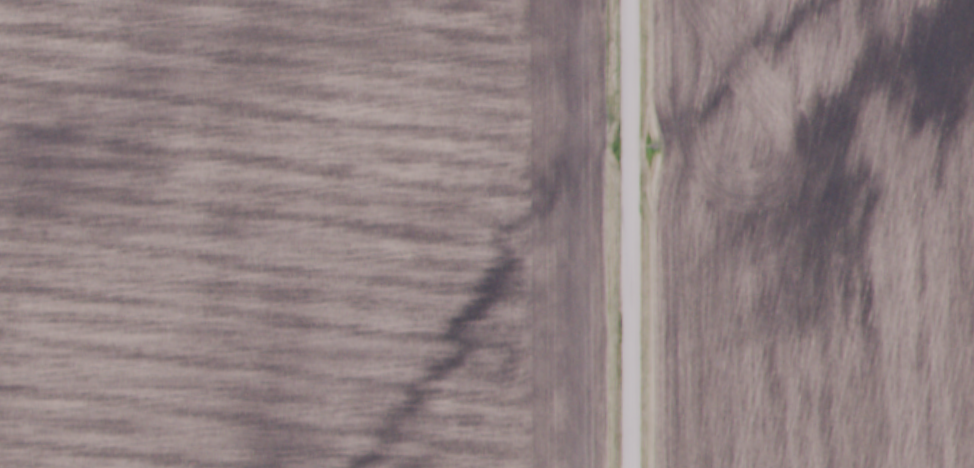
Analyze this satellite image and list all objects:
crop: (302, 233)
crop: (809, 233)
road: (632, 234)

